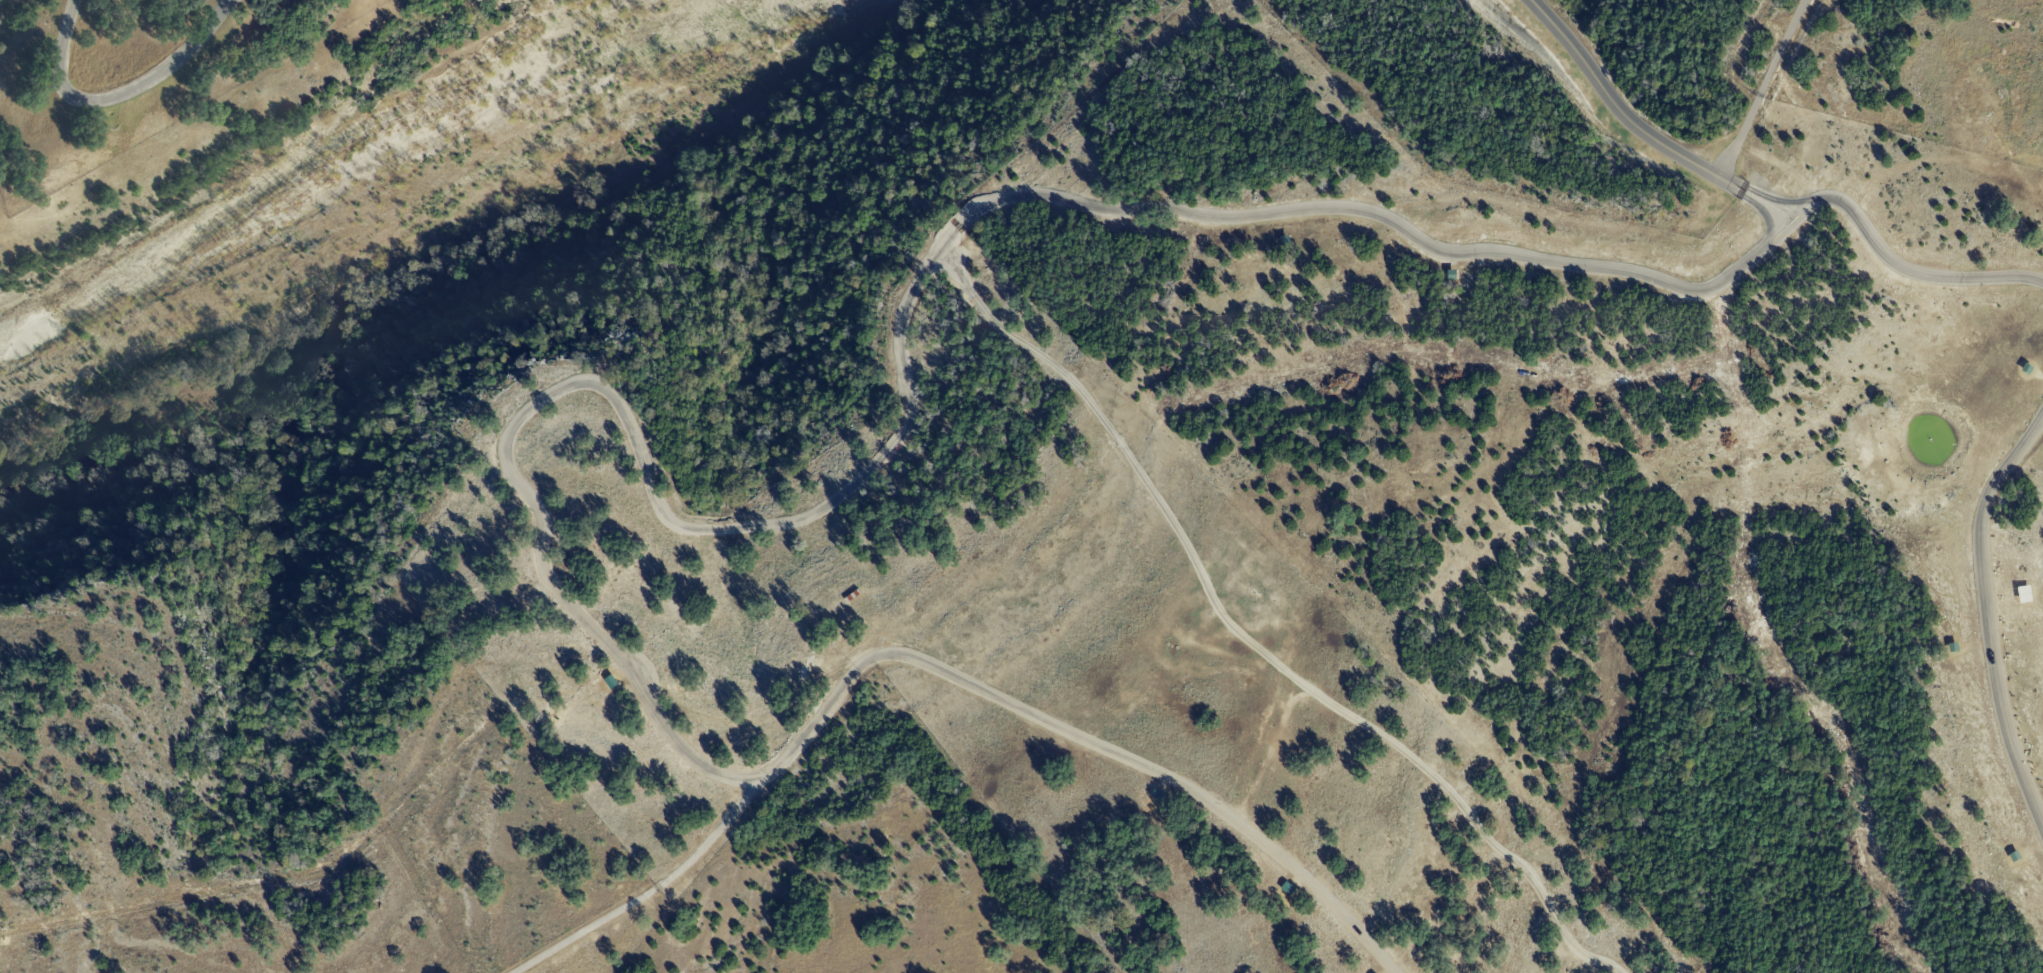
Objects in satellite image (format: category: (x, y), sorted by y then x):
road: (1762, 89)
road: (117, 92)
road: (1630, 122)
road: (1767, 206)
road: (744, 527)
road: (1989, 619)
road: (1246, 641)
road: (644, 668)
road: (646, 892)

